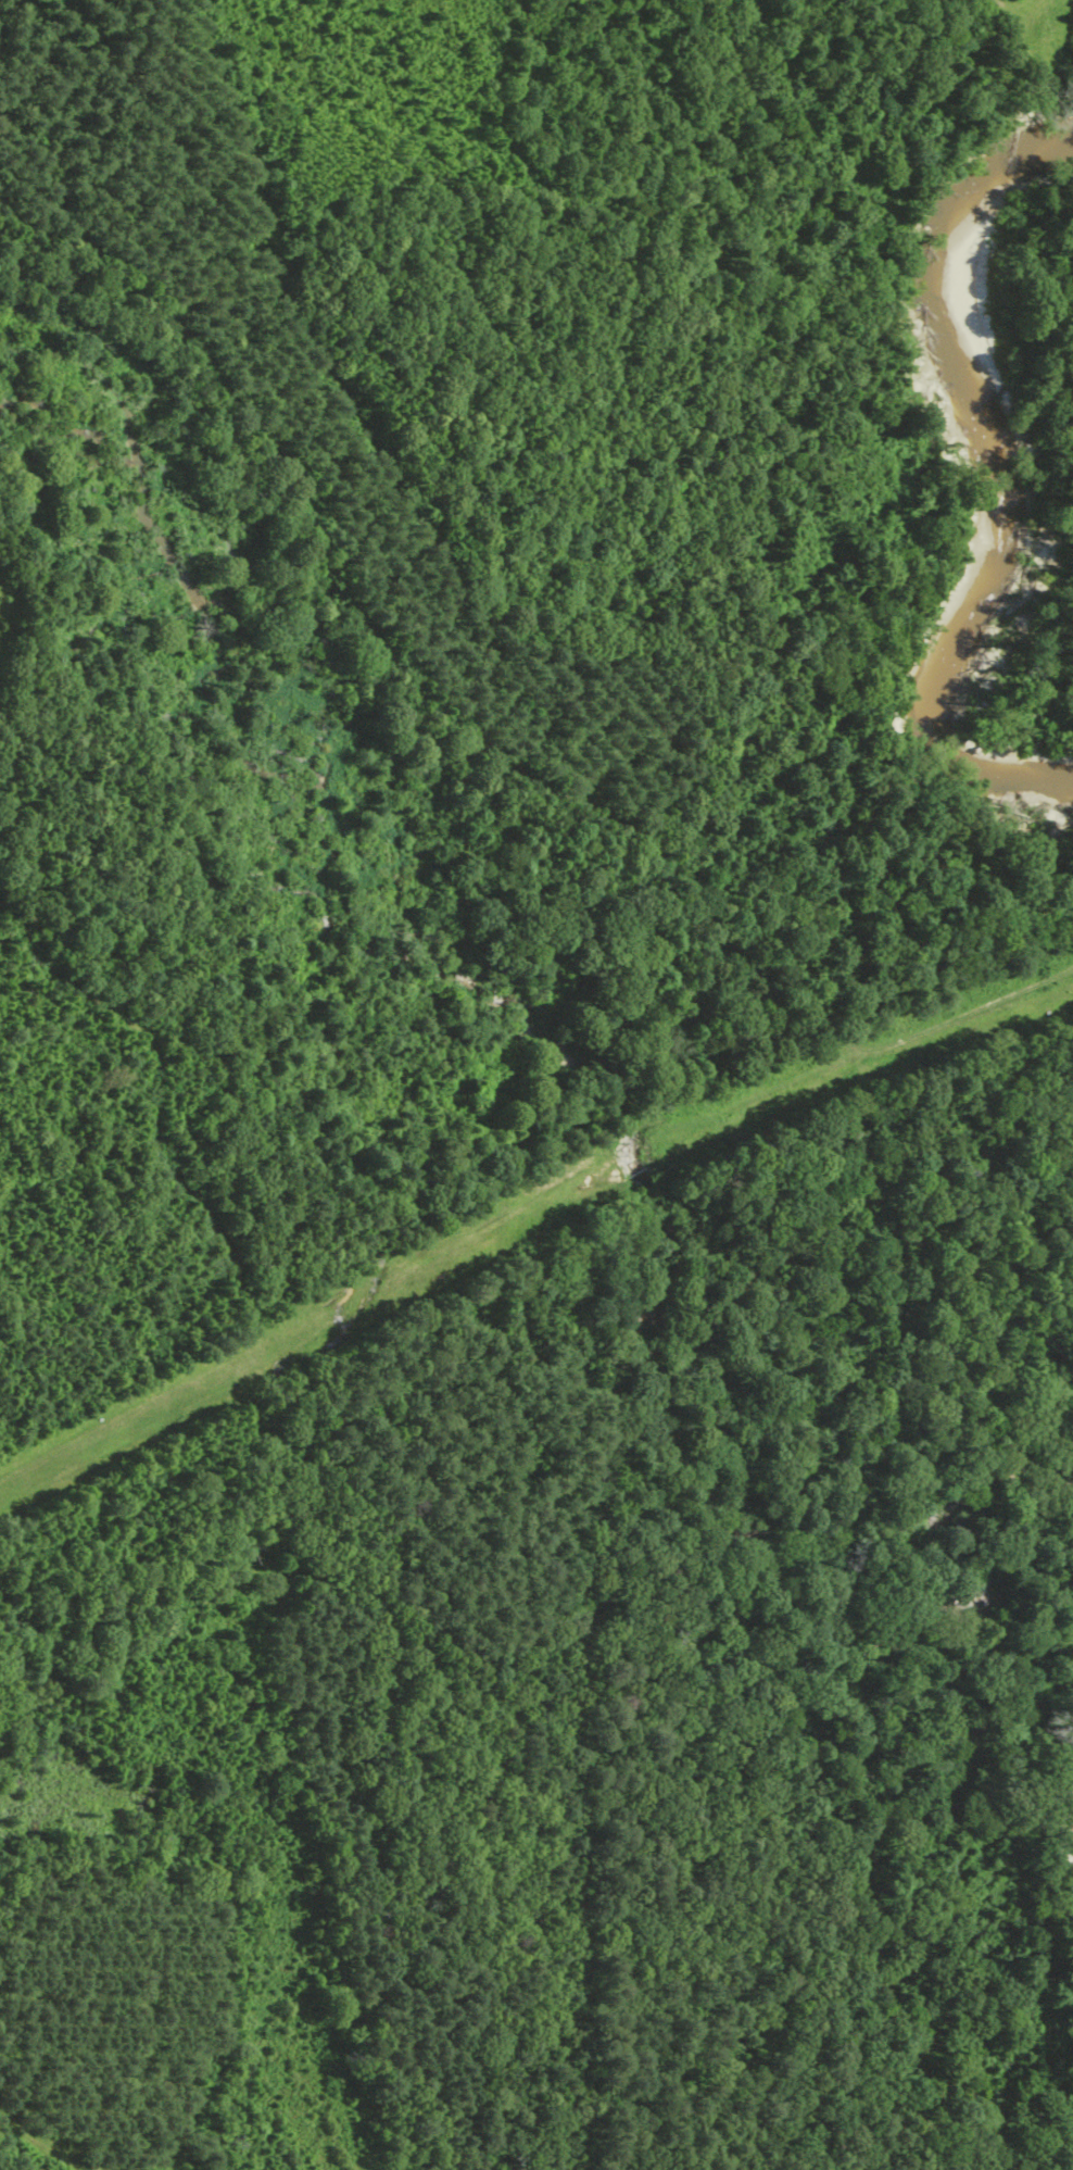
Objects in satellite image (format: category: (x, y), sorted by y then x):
river: (1005, 488)
road: (375, 639)

